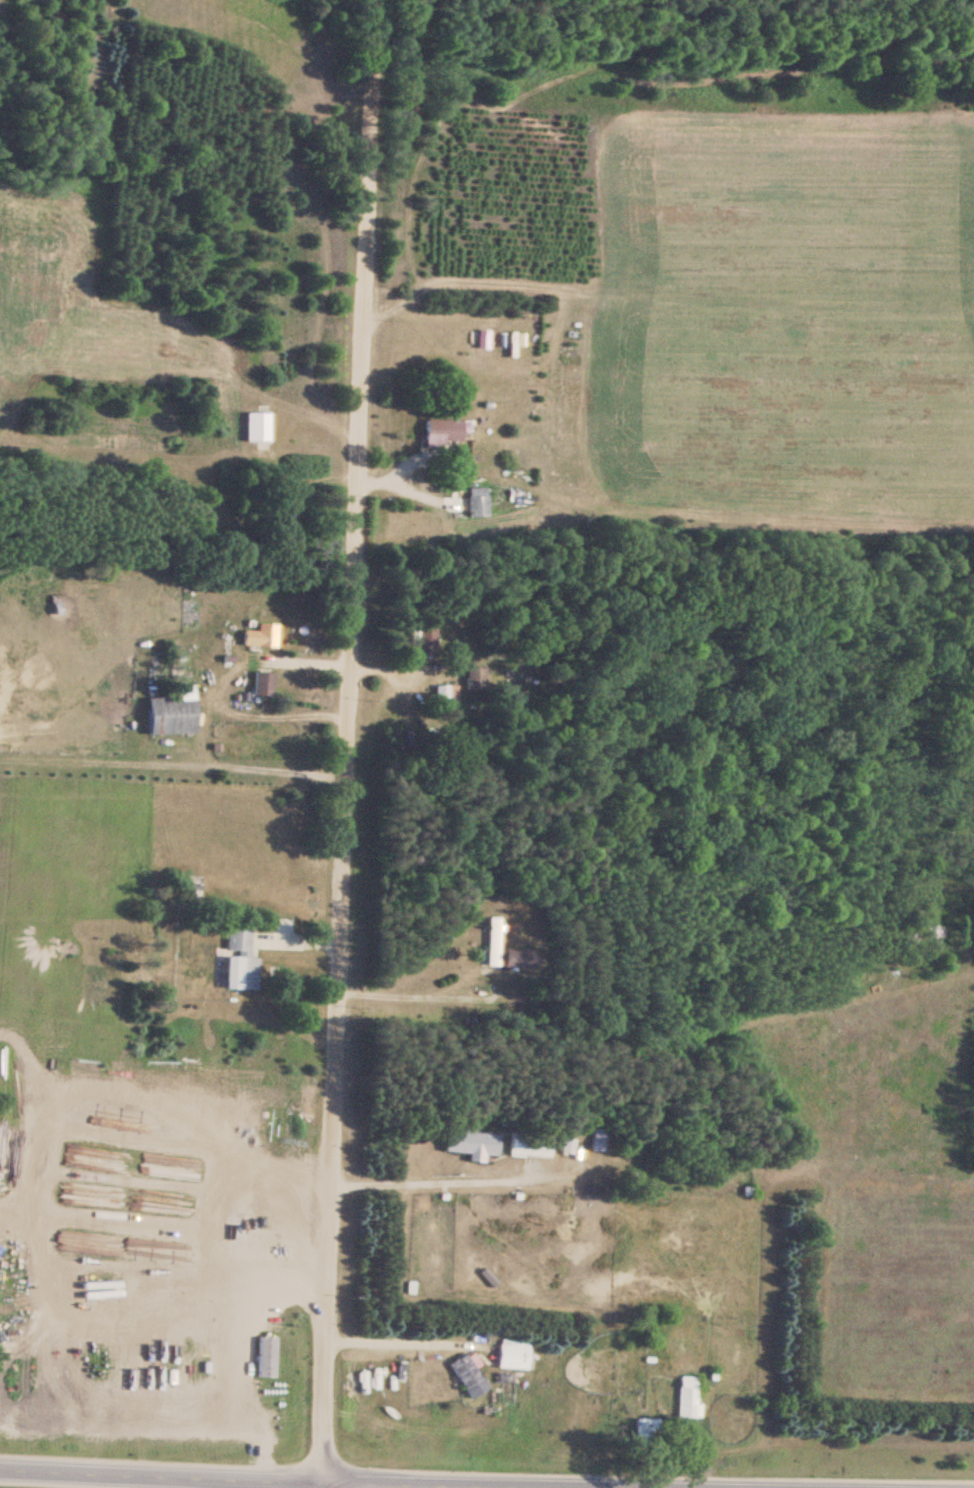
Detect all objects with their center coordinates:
crop: (783, 319)
building: (253, 426)
building: (440, 430)
building: (474, 502)
building: (52, 607)
building: (260, 635)
building: (424, 641)
building: (470, 678)
building: (262, 683)
building: (444, 693)
building: (170, 715)
road: (333, 743)
building: (490, 941)
building: (234, 958)
building: (517, 958)
building: (592, 1139)
building: (469, 1144)
building: (526, 1144)
building: (563, 1145)
building: (510, 1354)
building: (467, 1376)
building: (685, 1397)
building: (645, 1432)
road: (317, 1481)

